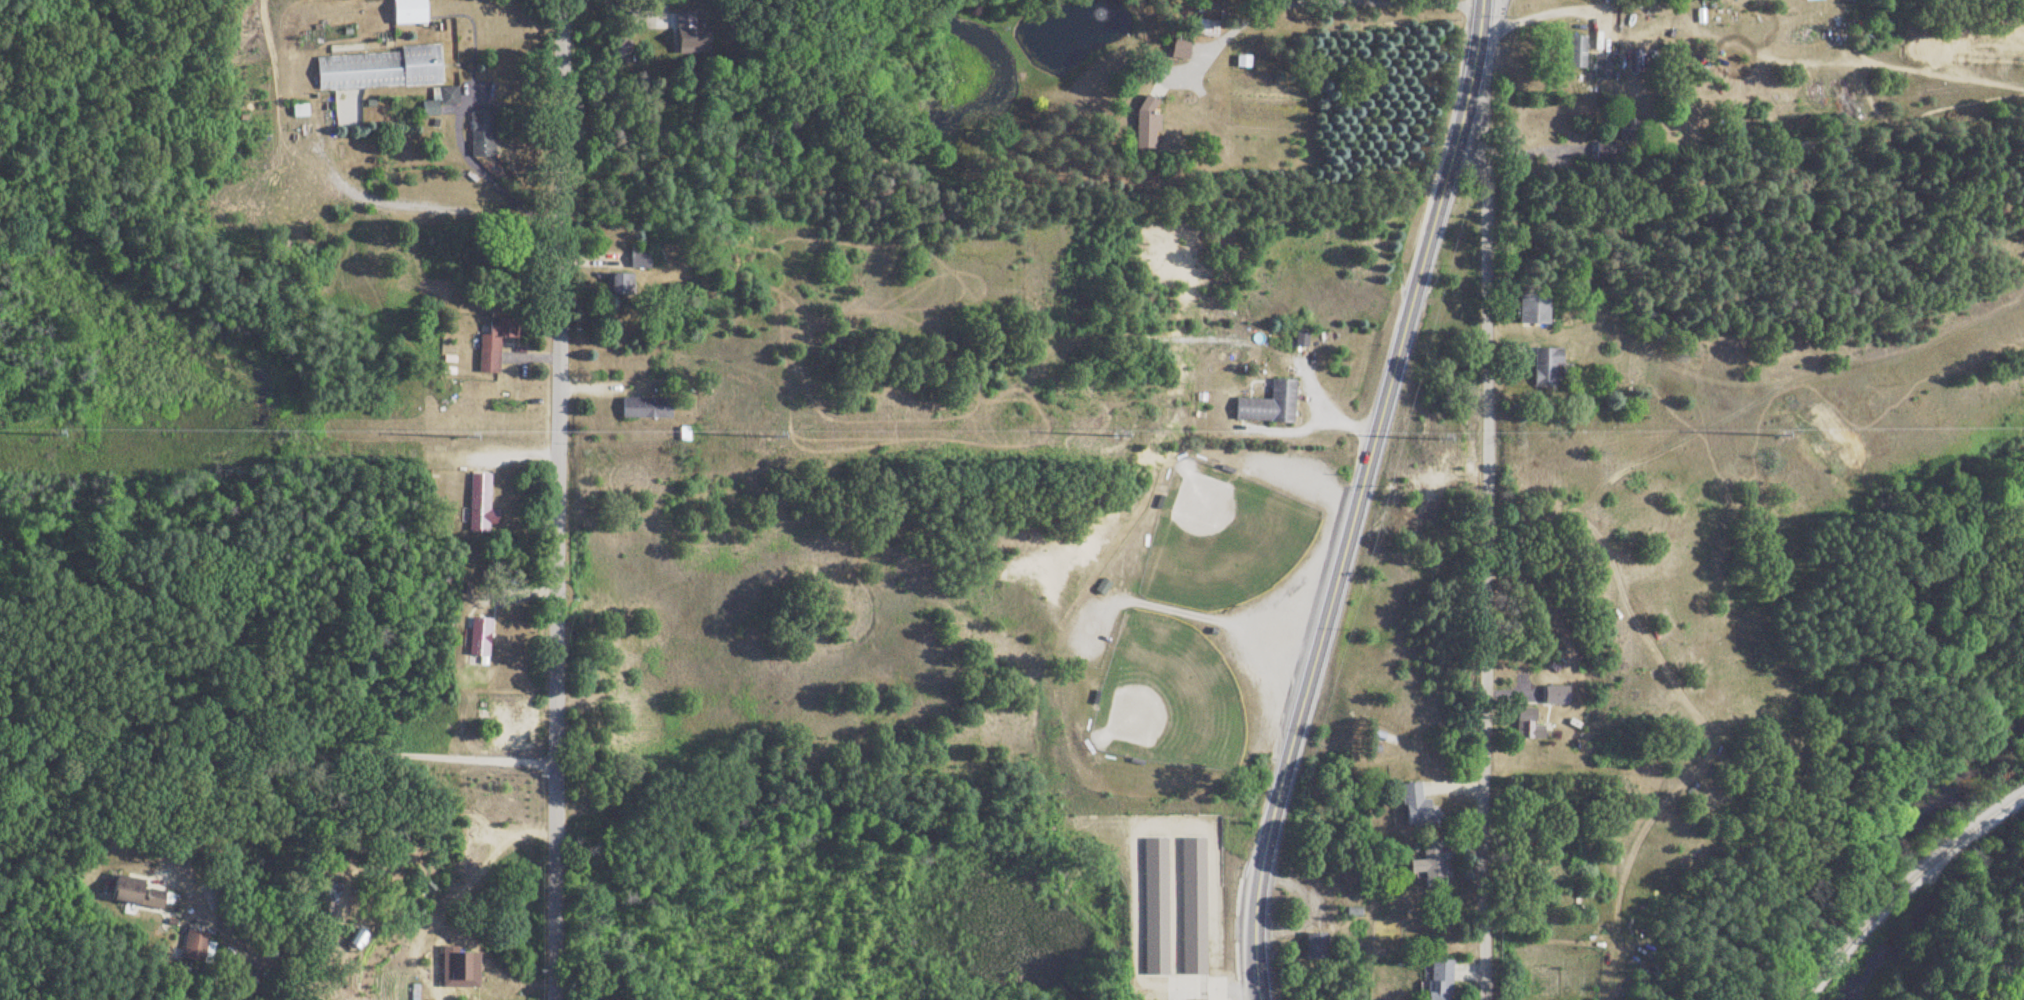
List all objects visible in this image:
road: (1482, 2)
road: (646, 5)
building: (407, 12)
building: (1207, 28)
building: (687, 36)
road: (1220, 36)
road: (1469, 46)
building: (1576, 53)
building: (1237, 62)
building: (1601, 66)
road: (1625, 67)
building: (373, 77)
building: (427, 109)
building: (480, 134)
road: (479, 165)
building: (637, 260)
building: (616, 284)
building: (1531, 310)
building: (490, 347)
building: (1544, 367)
building: (1267, 405)
building: (643, 408)
power tower: (50, 434)
power tower: (1770, 435)
power tower: (1115, 436)
power tower: (772, 437)
power tower: (465, 438)
power tower: (1434, 438)
road: (552, 499)
park: (1218, 535)
road: (1341, 545)
road: (1481, 546)
building: (479, 642)
building: (1554, 696)
park: (1165, 697)
building: (1520, 719)
road: (325, 751)
building: (1413, 806)
building: (1428, 867)
railway: (1900, 883)
building: (136, 894)
building: (1153, 904)
building: (193, 947)
building: (1314, 947)
building: (1203, 960)
building: (1437, 979)

